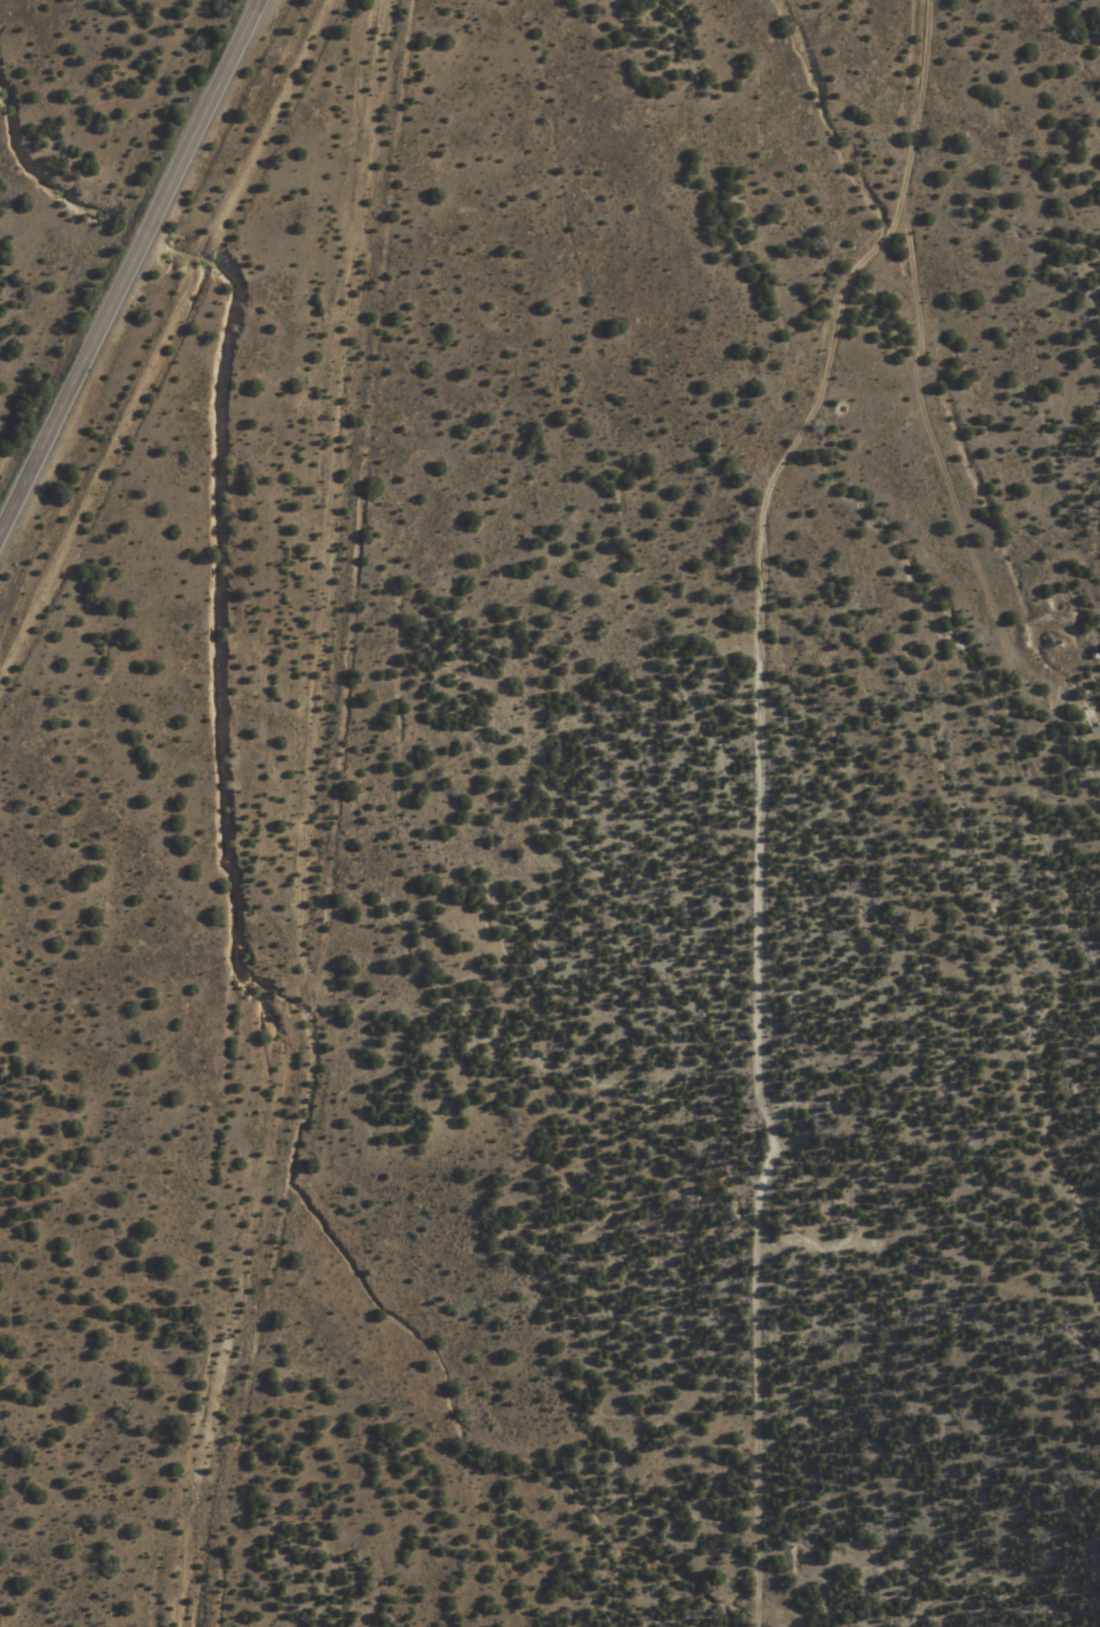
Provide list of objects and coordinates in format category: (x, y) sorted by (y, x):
road: (247, 22)
road: (119, 290)

